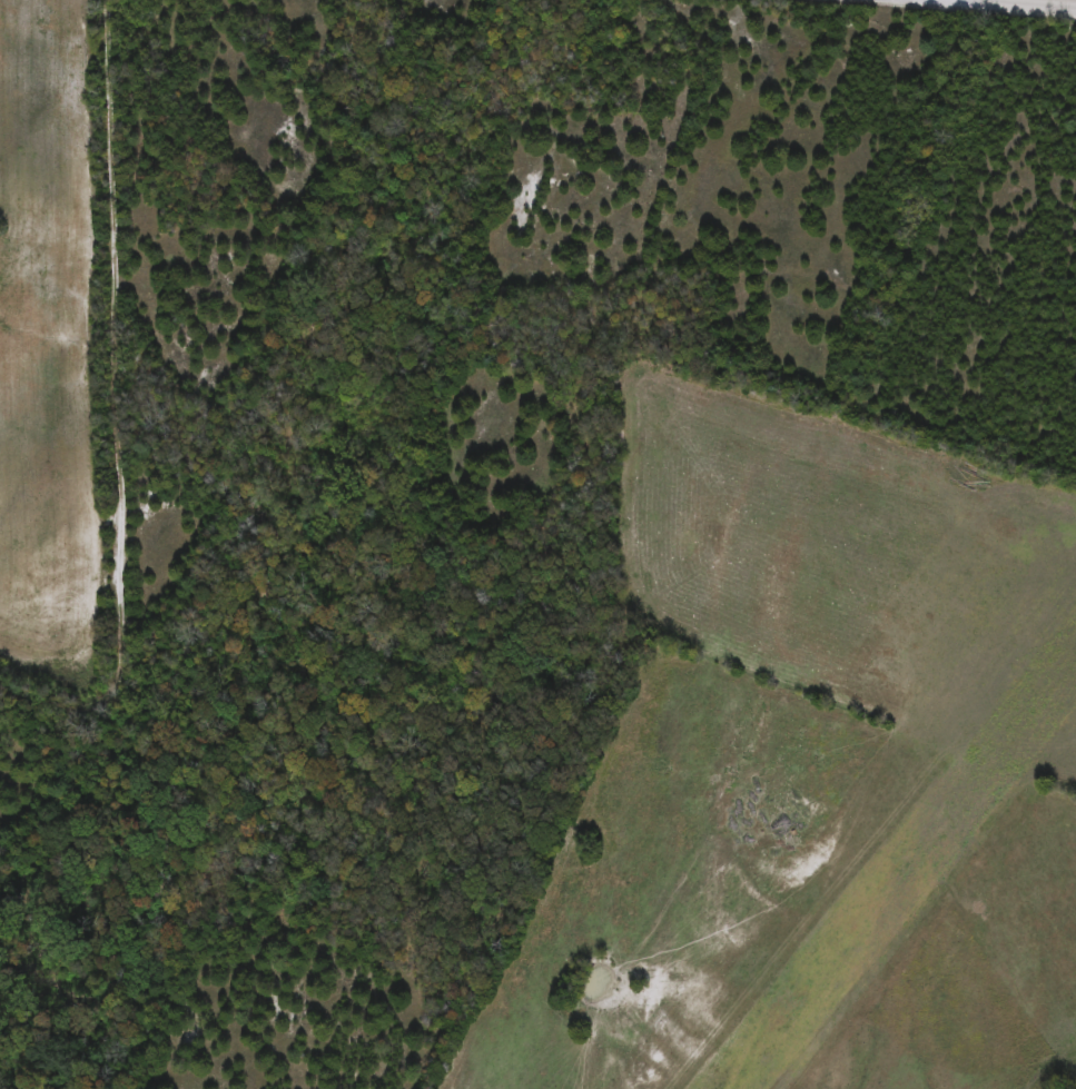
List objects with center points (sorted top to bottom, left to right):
road: (1024, 3)
road: (221, 453)

